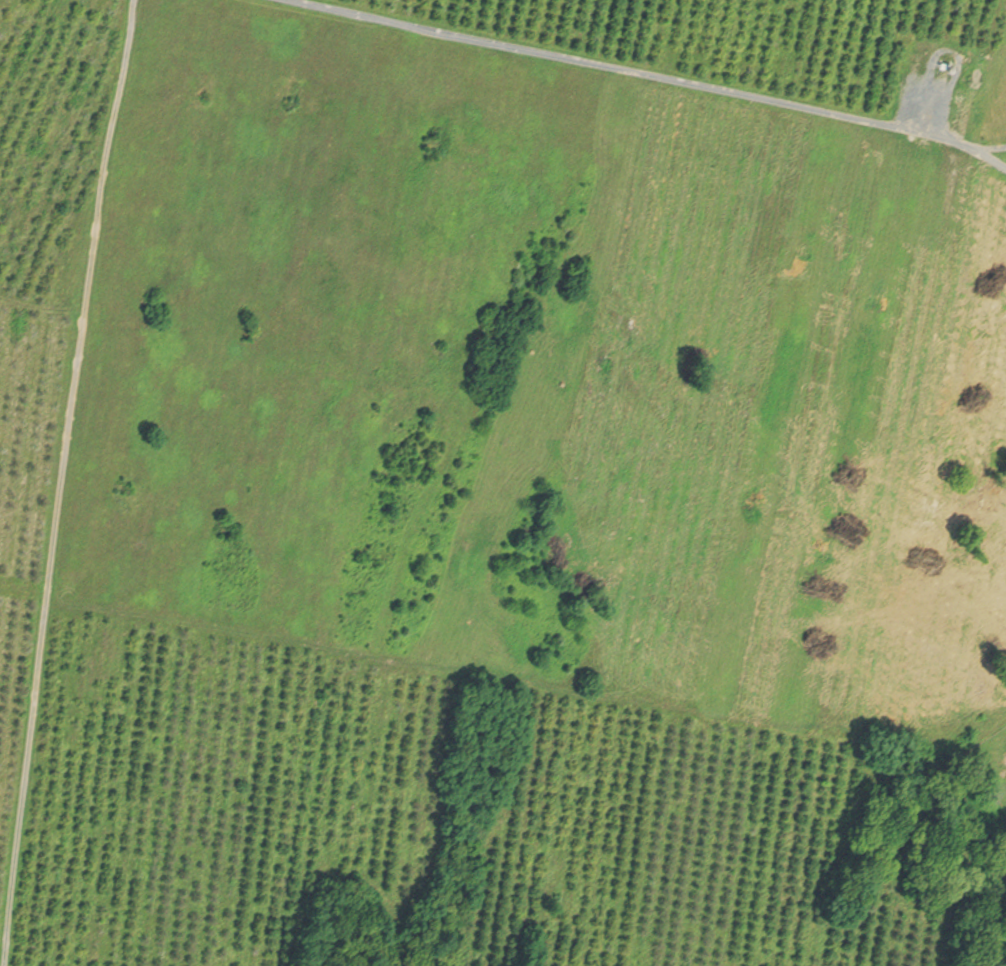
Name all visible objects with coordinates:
road: (648, 73)
road: (983, 146)
road: (59, 473)

